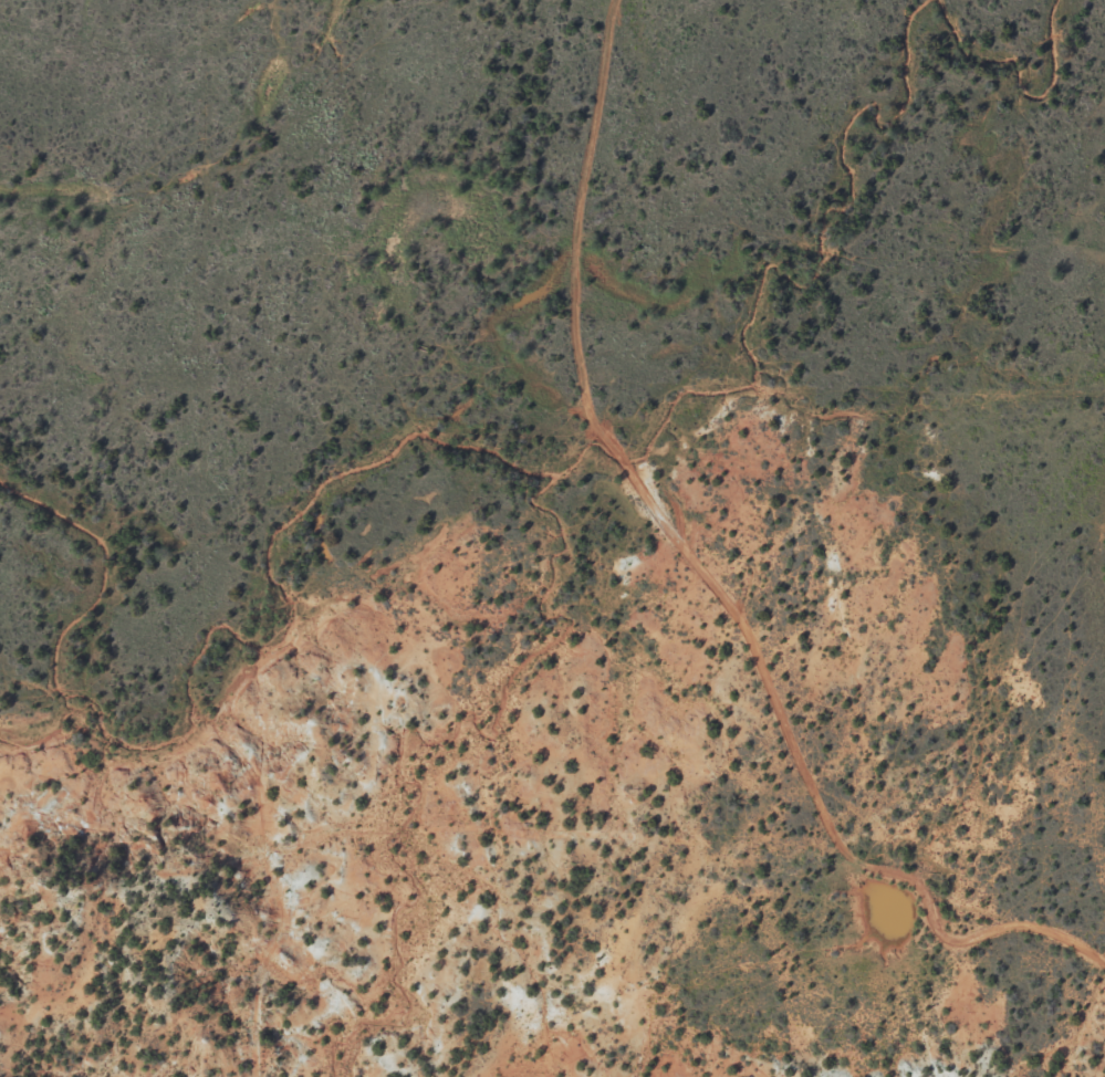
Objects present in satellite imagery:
road: (678, 566)

